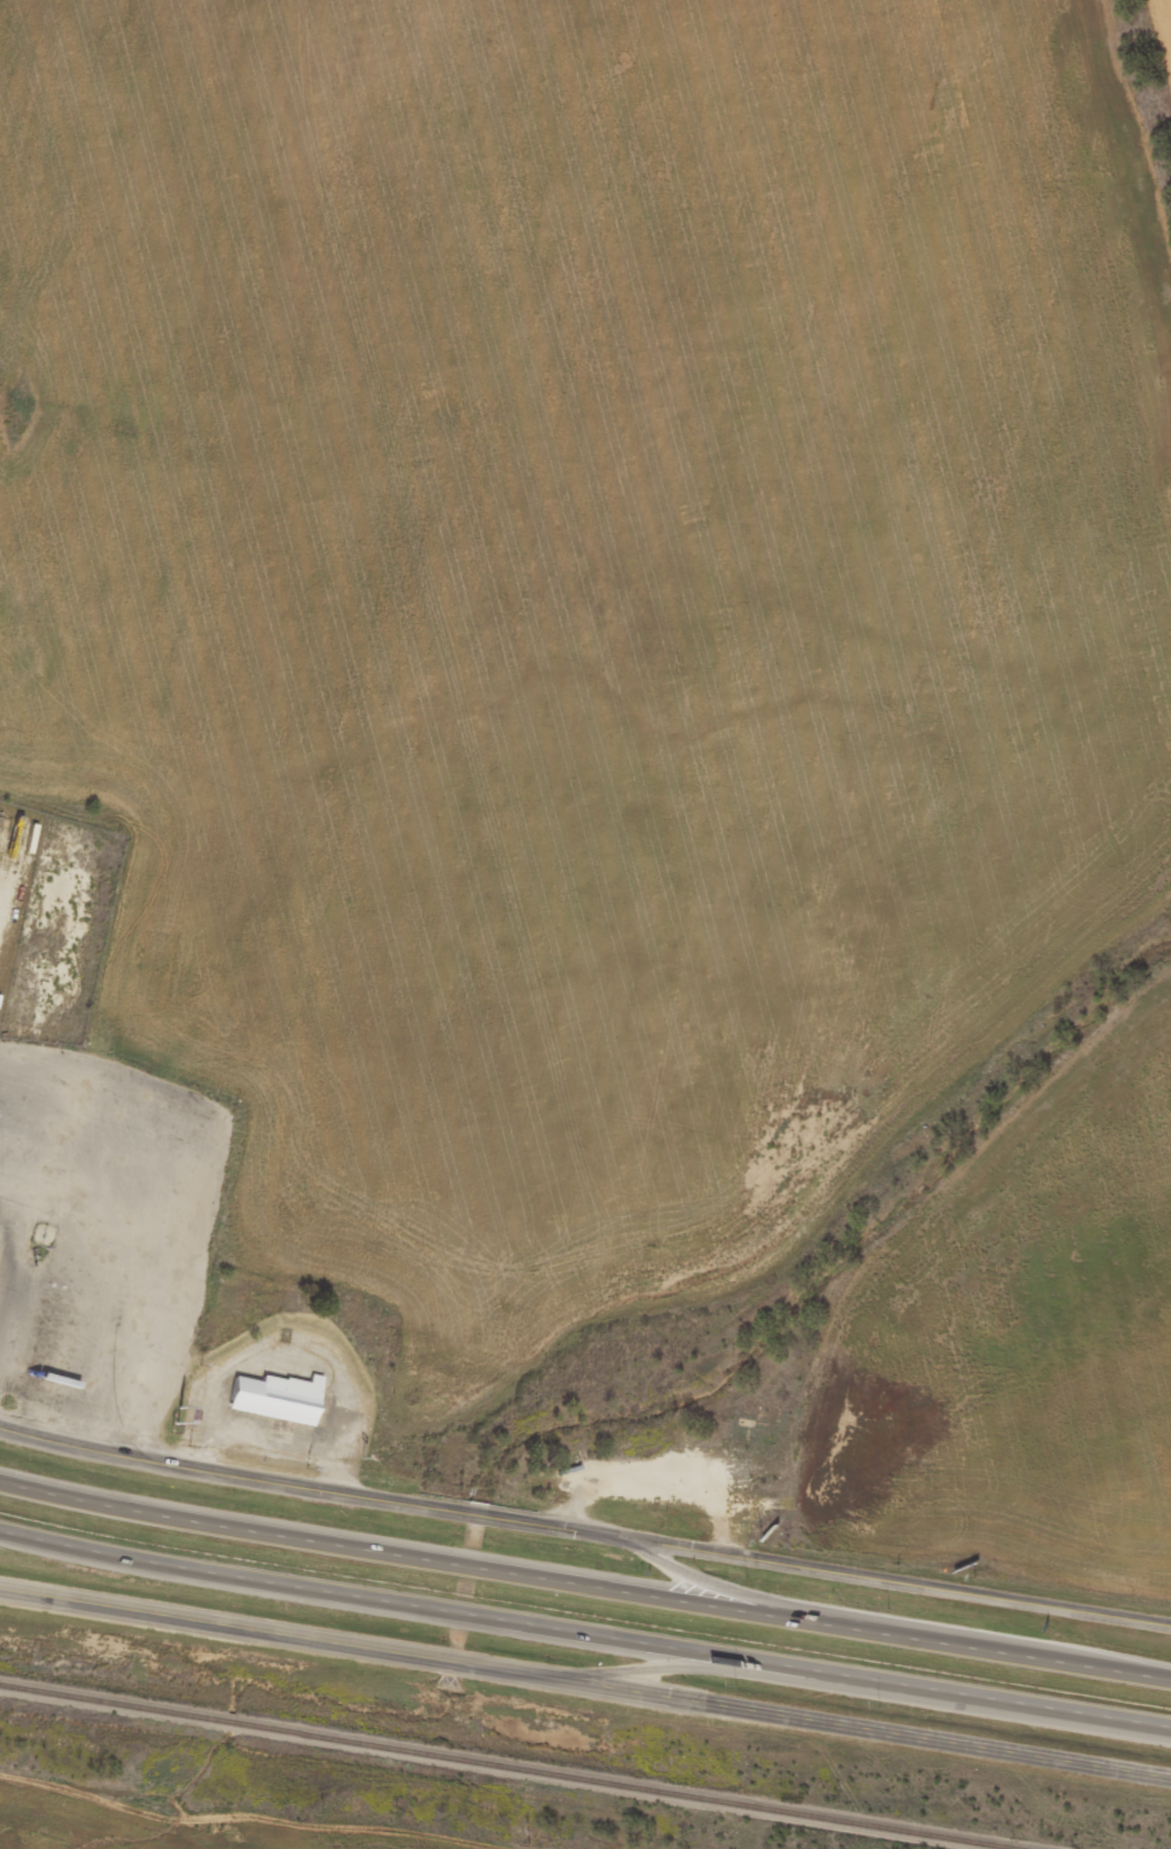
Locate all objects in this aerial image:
building: (273, 1407)
road: (307, 1483)
road: (891, 1589)
road: (583, 1597)
road: (727, 1597)
road: (279, 1634)
road: (584, 1642)
road: (722, 1680)
road: (864, 1733)
railway: (508, 1767)

